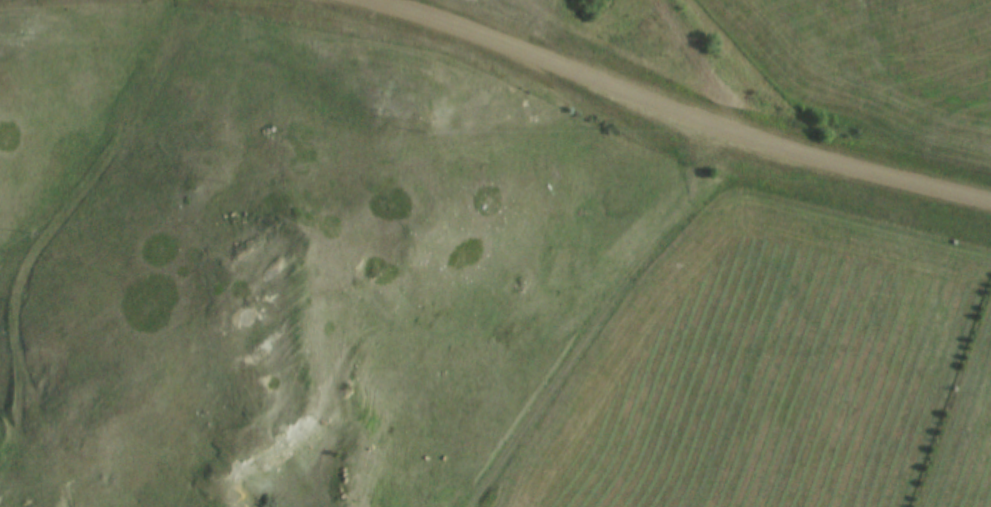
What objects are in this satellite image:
road: (665, 115)

